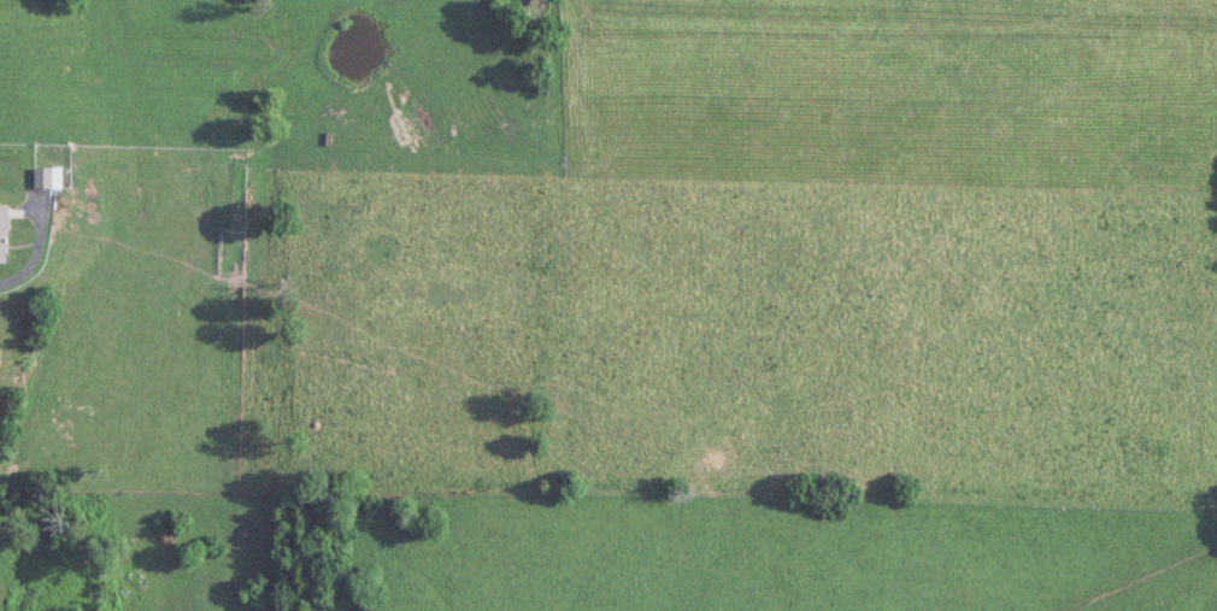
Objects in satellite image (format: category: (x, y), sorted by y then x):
building: (233, 225)
building: (4, 235)

